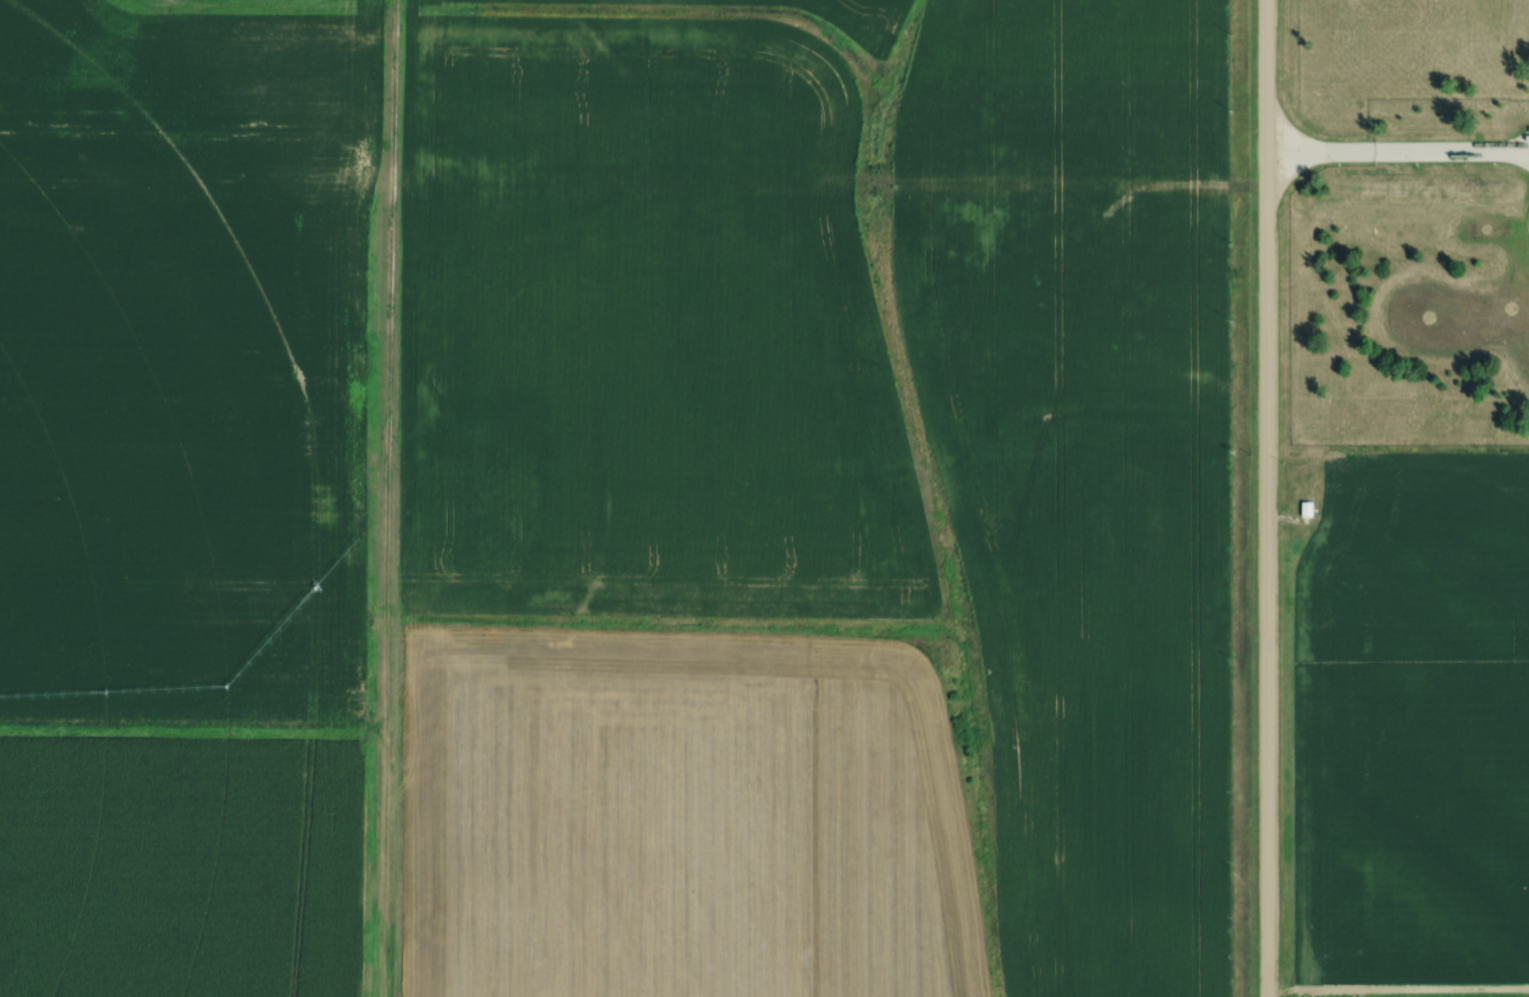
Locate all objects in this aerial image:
road: (1396, 146)
road: (1264, 498)
building: (1308, 509)

